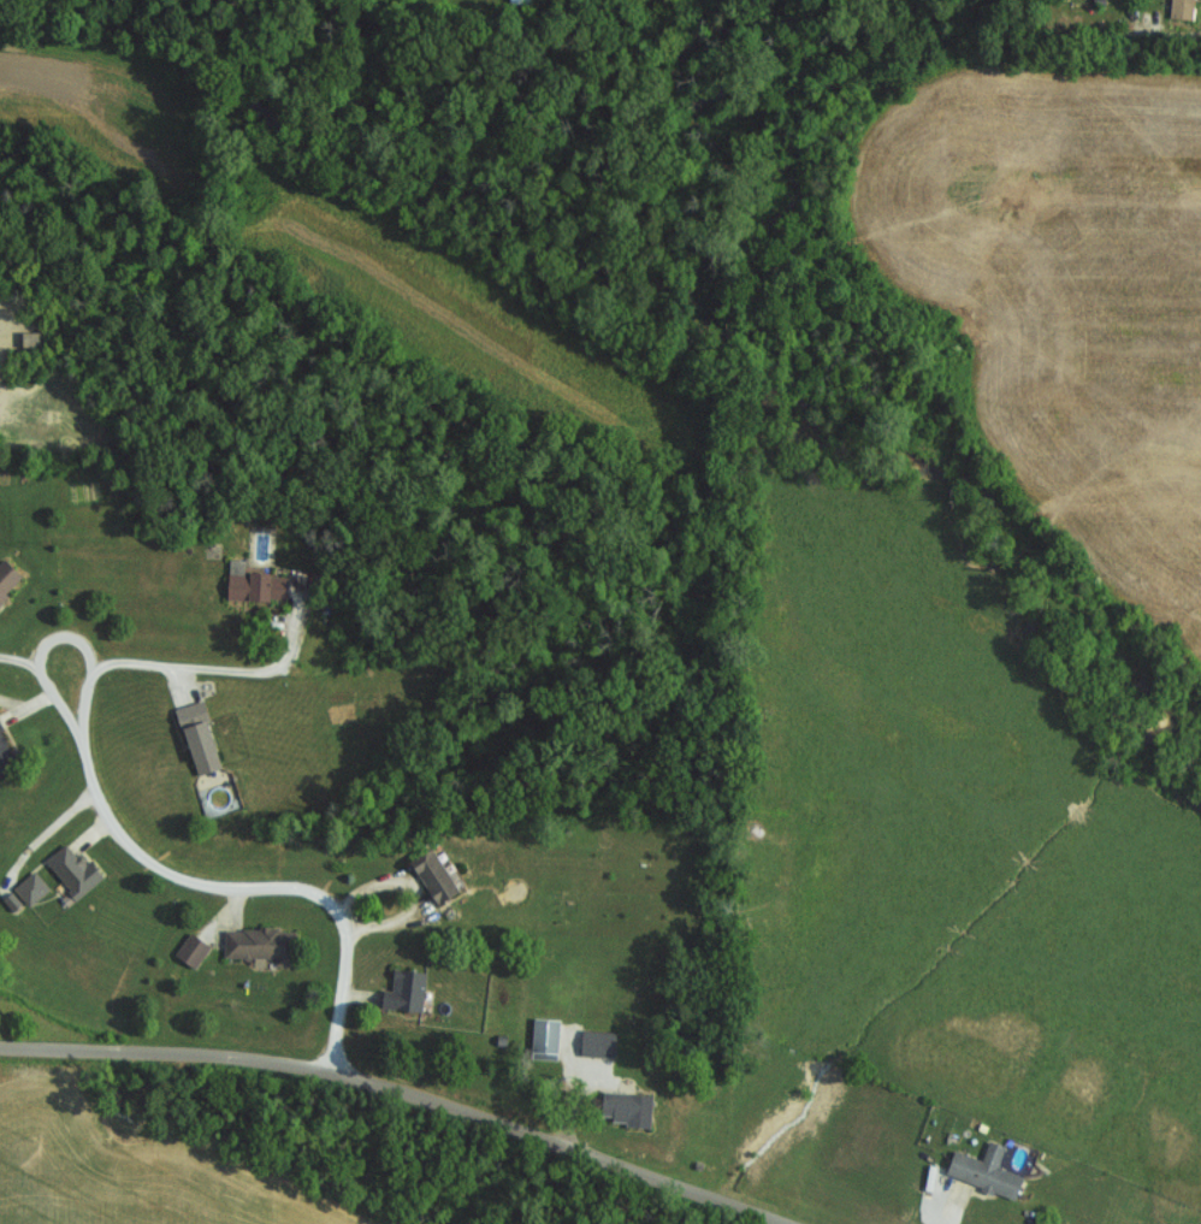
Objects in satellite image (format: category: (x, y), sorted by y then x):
building: (1178, 8)
building: (28, 338)
building: (6, 578)
building: (254, 586)
road: (203, 669)
building: (195, 746)
building: (2, 747)
road: (143, 852)
building: (69, 869)
building: (428, 875)
building: (29, 887)
building: (253, 942)
building: (189, 950)
building: (401, 992)
building: (542, 1039)
building: (594, 1042)
road: (401, 1087)
building: (625, 1108)
building: (982, 1170)
crop: (125, 1176)

